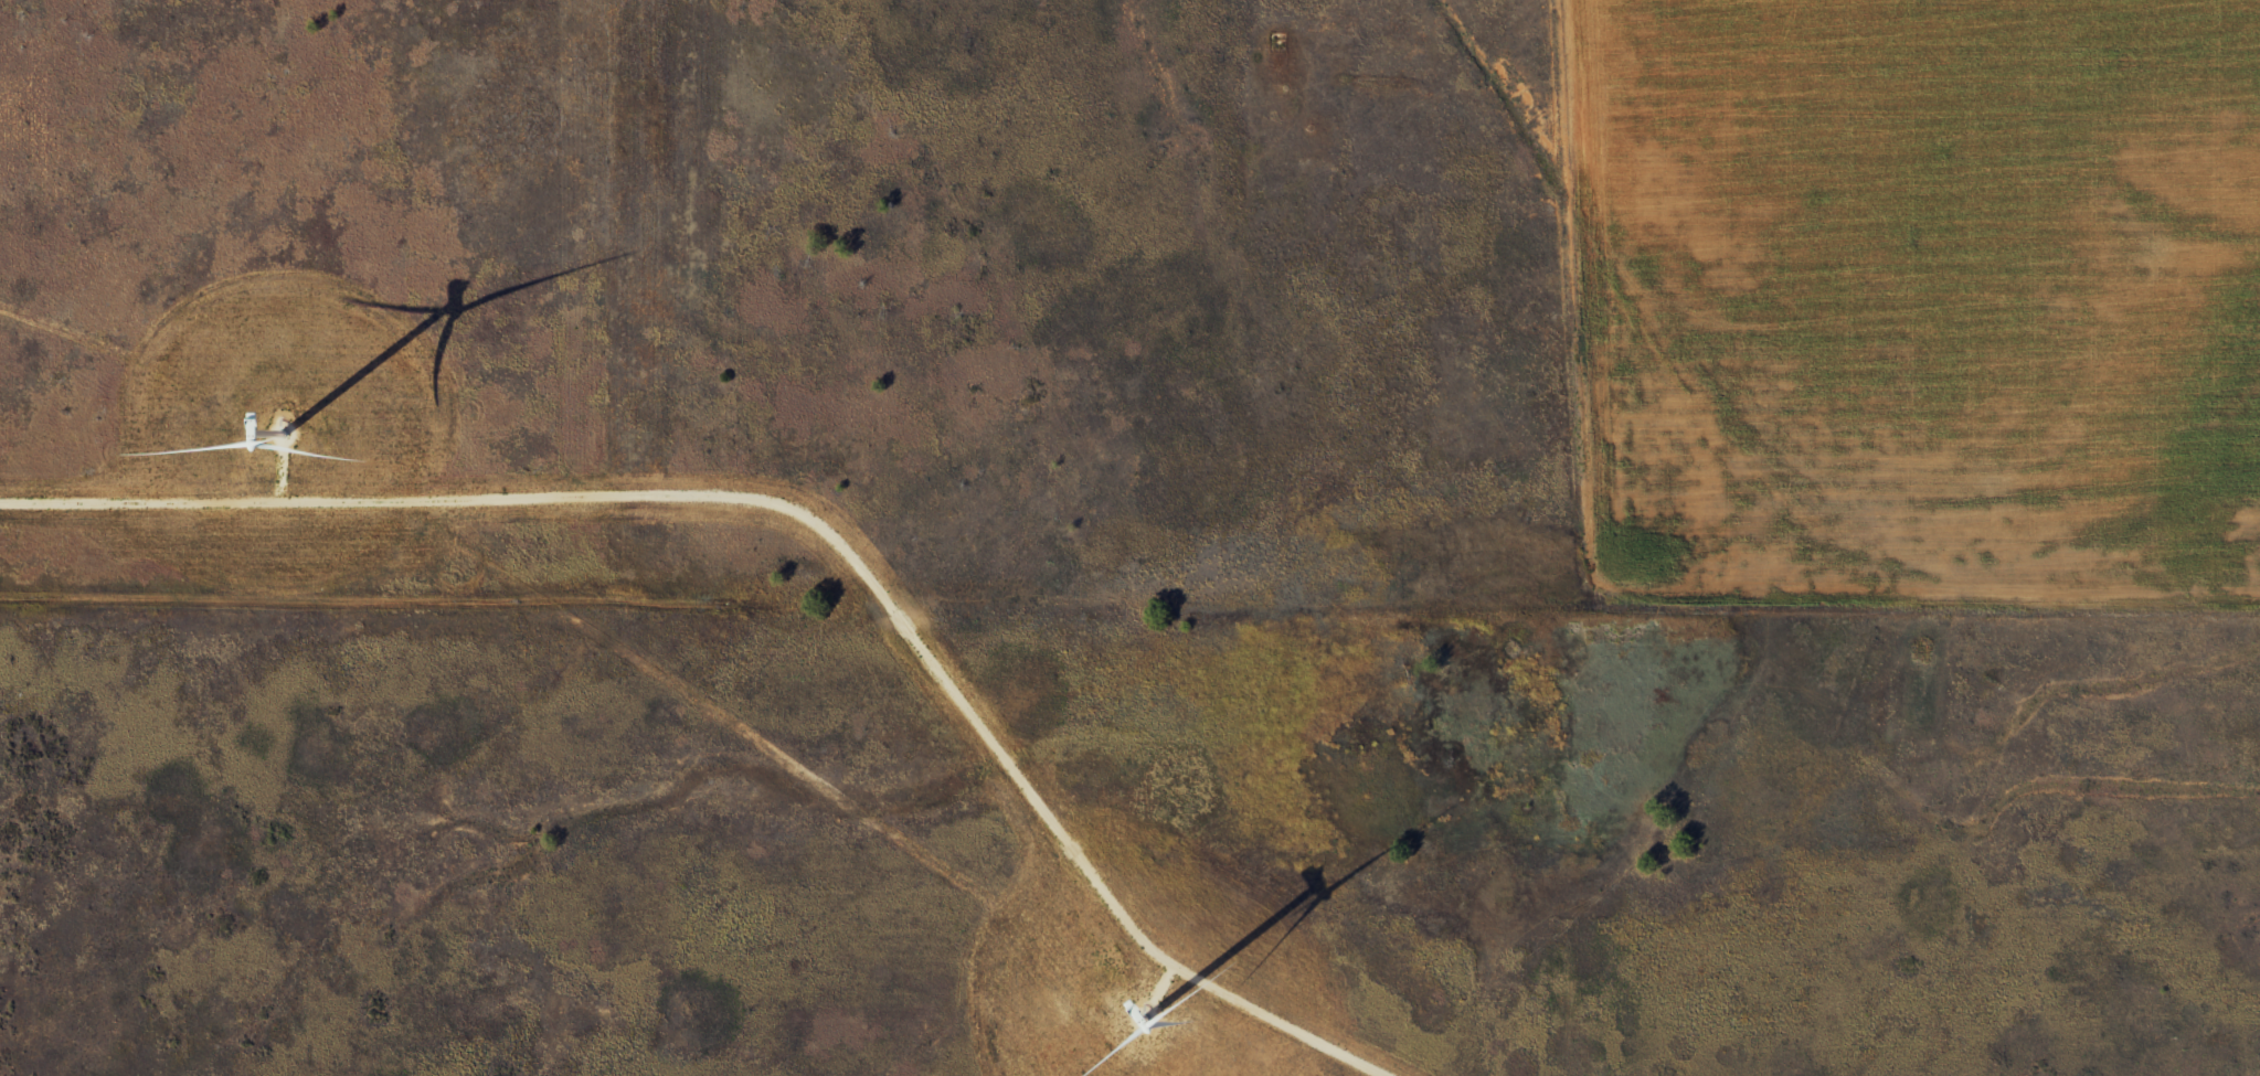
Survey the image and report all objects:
wind turbine: (278, 433)
road: (751, 599)
wind turbine: (1140, 1010)

